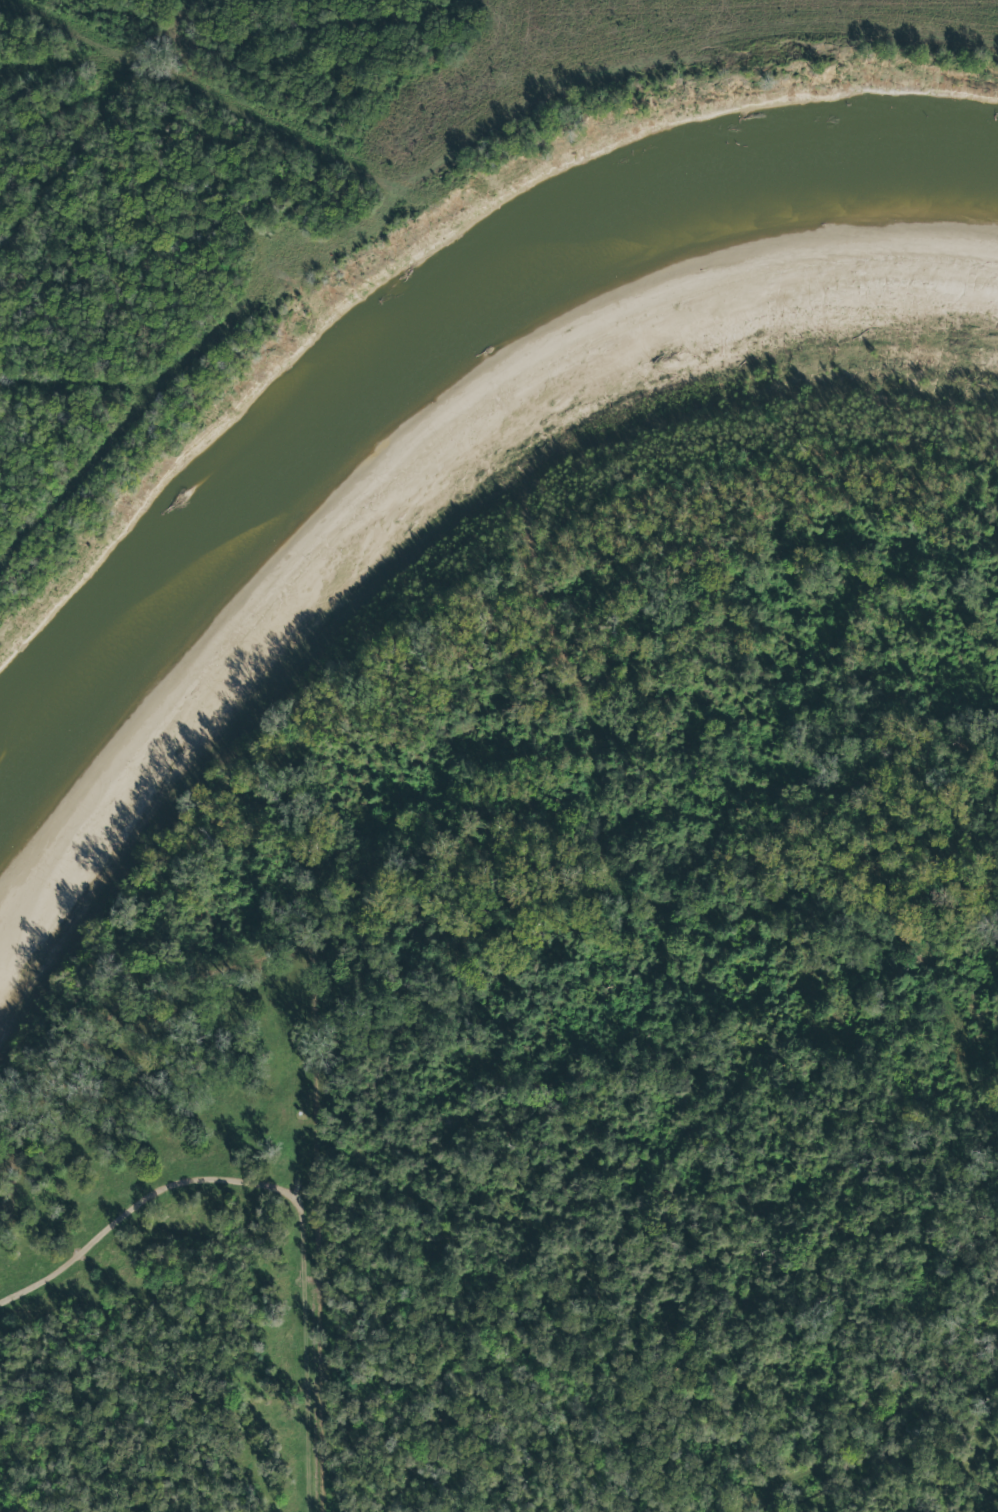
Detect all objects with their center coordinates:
road: (487, 160)
river: (421, 376)
road: (163, 875)
road: (661, 912)
road: (114, 1008)
road: (36, 1043)
road: (974, 1465)

